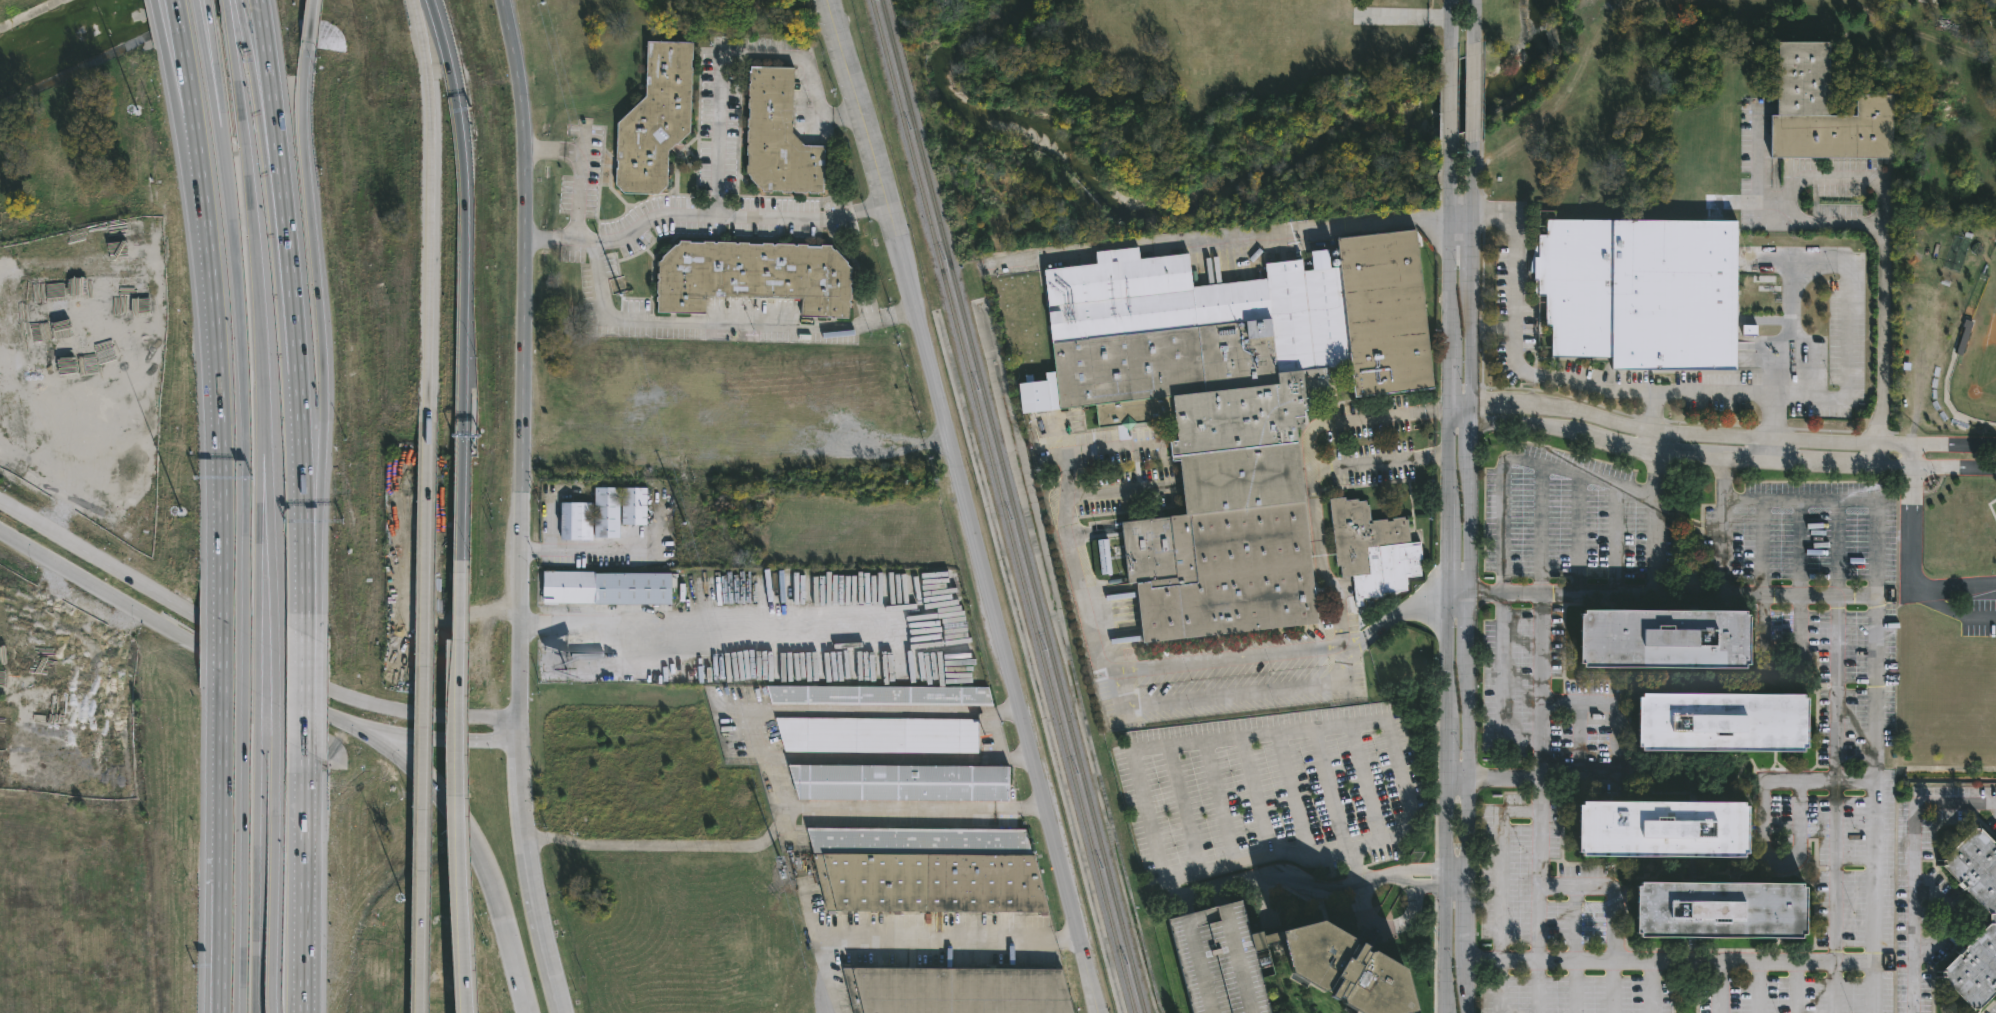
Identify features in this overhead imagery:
road: (237, 2)
road: (224, 5)
road: (206, 9)
road: (195, 11)
road: (176, 15)
road: (155, 20)
road: (1473, 22)
power tower: (544, 23)
road: (309, 24)
road: (1449, 25)
road: (243, 32)
park: (1227, 51)
road: (730, 58)
road: (186, 71)
road: (213, 73)
road: (266, 73)
road: (176, 75)
road: (208, 75)
road: (302, 90)
road: (1473, 94)
road: (1448, 100)
road: (262, 104)
road: (847, 112)
building: (1823, 112)
building: (656, 121)
road: (522, 132)
building: (779, 139)
road: (531, 148)
road: (569, 150)
road: (1817, 182)
road: (578, 195)
road: (429, 204)
road: (875, 205)
road: (670, 214)
road: (1768, 217)
road: (813, 219)
road: (1460, 226)
road: (251, 231)
road: (1298, 232)
road: (535, 238)
road: (314, 277)
building: (754, 277)
road: (464, 278)
road: (1847, 278)
power tower: (617, 287)
building: (1640, 291)
road: (902, 314)
road: (638, 318)
road: (1883, 321)
road: (837, 325)
road: (294, 333)
road: (220, 352)
park: (1977, 362)
road: (241, 365)
road: (1572, 384)
building: (1231, 408)
road: (1439, 409)
road: (1655, 412)
road: (1656, 434)
toll booth: (462, 436)
road: (1061, 437)
road: (1892, 445)
road: (1953, 445)
road: (1310, 448)
road: (1109, 449)
road: (1769, 451)
road: (1655, 454)
road: (1439, 456)
road: (1911, 456)
road: (1891, 467)
road: (1953, 468)
road: (77, 470)
road: (314, 471)
road: (1116, 490)
road: (519, 491)
road: (962, 506)
railway: (1002, 506)
railway: (1012, 506)
building: (634, 508)
building: (606, 514)
road: (550, 522)
building: (576, 522)
road: (1909, 531)
road: (259, 533)
road: (267, 537)
road: (1576, 538)
road: (1615, 543)
road: (616, 547)
road: (1502, 547)
road: (527, 548)
building: (1371, 549)
building: (1102, 556)
road: (1319, 558)
power tower: (696, 561)
road: (1081, 567)
road: (64, 569)
road: (1797, 571)
road: (304, 577)
road: (1470, 578)
road: (1446, 580)
road: (1958, 588)
building: (610, 589)
road: (1759, 591)
road: (1632, 598)
road: (1687, 599)
road: (1727, 599)
road: (1425, 605)
road: (1955, 613)
road: (529, 622)
road: (722, 626)
road: (1371, 626)
road: (75, 633)
road: (247, 647)
building: (1661, 647)
road: (1302, 650)
road: (223, 652)
road: (245, 662)
road: (1186, 663)
road: (257, 669)
road: (243, 671)
road: (274, 678)
road: (1874, 681)
road: (1282, 688)
road: (304, 692)
road: (1125, 694)
building: (881, 696)
road: (872, 708)
road: (1006, 708)
road: (424, 711)
building: (1719, 730)
road: (1278, 734)
building: (880, 735)
road: (1539, 740)
road: (439, 741)
road: (1615, 753)
road: (1834, 757)
road: (886, 758)
road: (1018, 759)
road: (407, 764)
road: (769, 772)
road: (1492, 780)
building: (905, 784)
road: (1366, 784)
road: (1794, 784)
road: (462, 787)
road: (1331, 792)
road: (1257, 797)
road: (1295, 798)
road: (1221, 804)
road: (1995, 805)
road: (1799, 809)
road: (901, 810)
road: (1185, 810)
road: (1031, 811)
road: (523, 825)
building: (1659, 837)
road: (652, 846)
road: (221, 861)
road: (1781, 863)
road: (244, 866)
road: (1219, 867)
road: (1914, 867)
road: (255, 869)
building: (930, 871)
road: (273, 875)
road: (1457, 878)
road: (302, 881)
power tower: (785, 886)
road: (1502, 895)
road: (497, 905)
road: (814, 912)
road: (1612, 912)
road: (1952, 918)
building: (1716, 919)
building: (1993, 919)
road: (949, 938)
building: (1263, 940)
road: (1575, 949)
building: (1220, 961)
parking garage: (1220, 961)
road: (1671, 962)
building: (1342, 971)
road: (548, 972)
road: (833, 975)
road: (1652, 987)
road: (1719, 987)
road: (1758, 987)
road: (1796, 987)
building: (961, 989)

